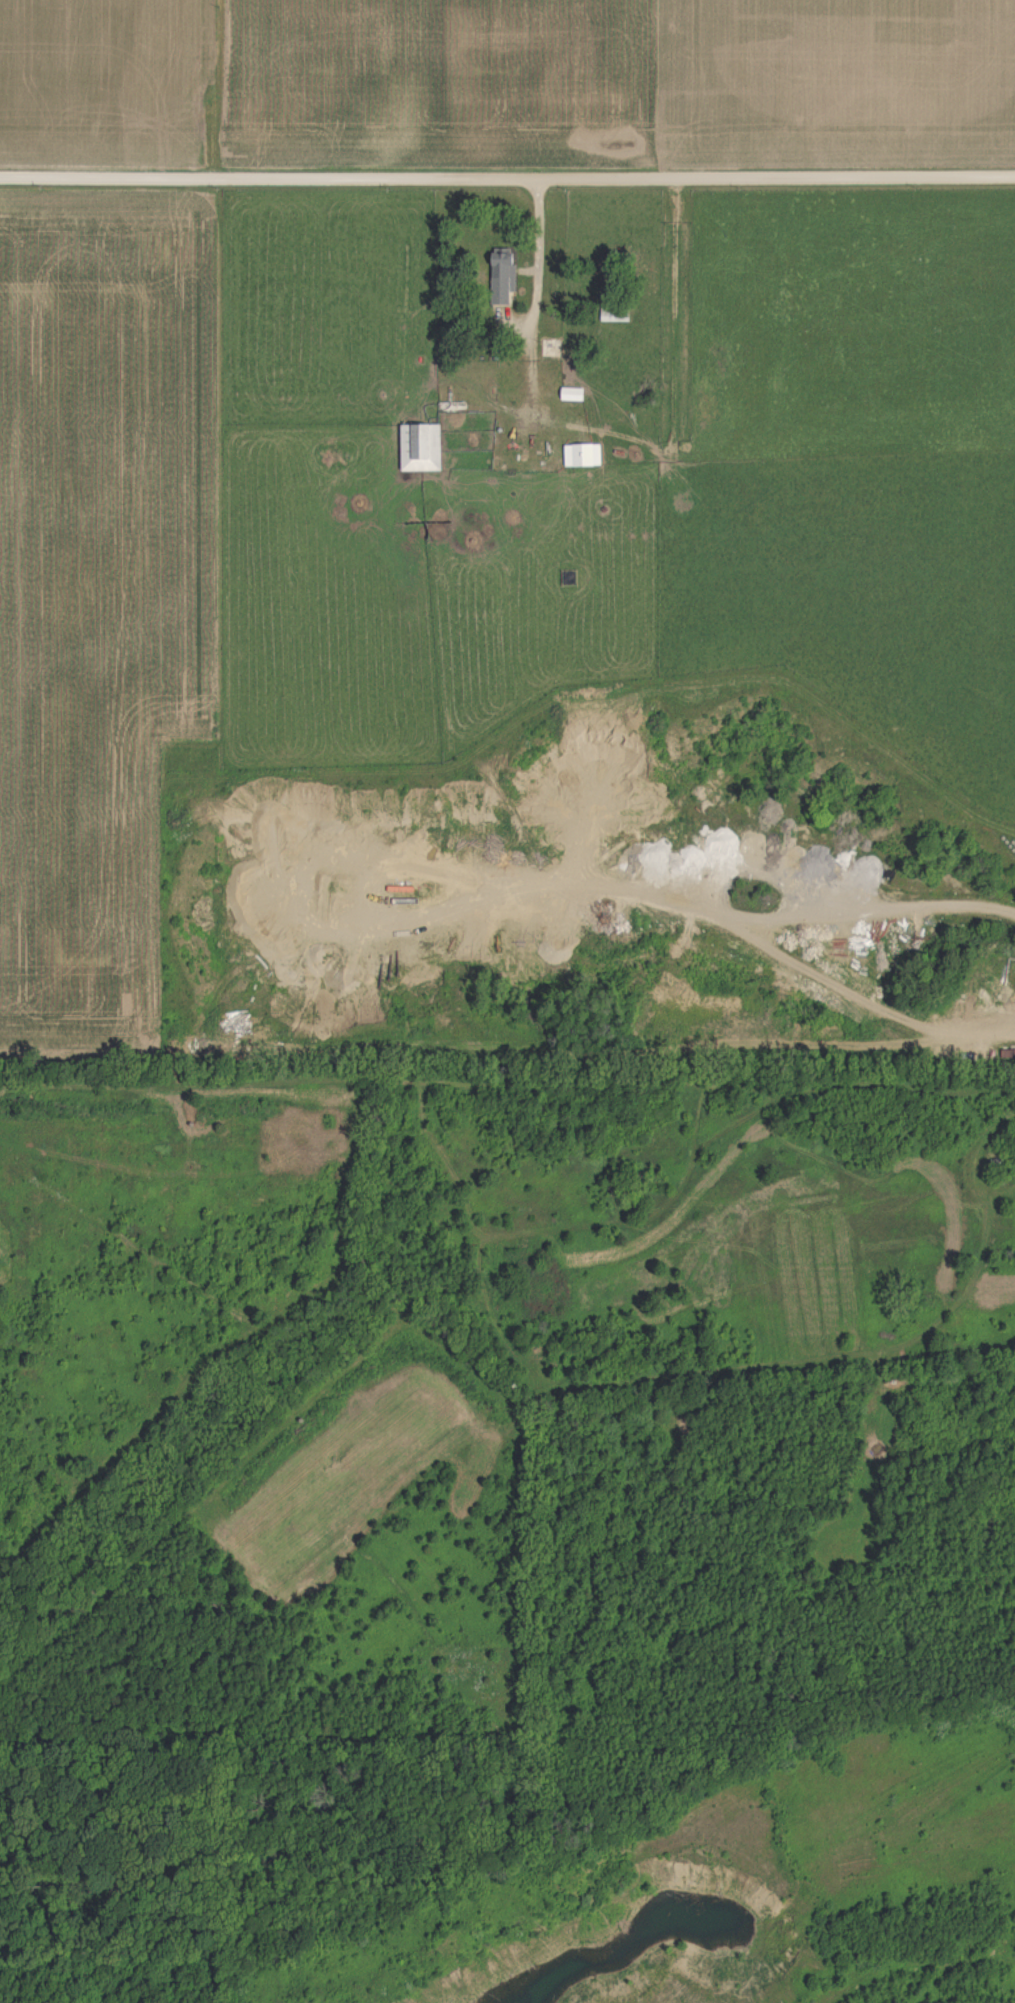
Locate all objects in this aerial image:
road: (507, 175)
building: (501, 276)
building: (582, 456)

